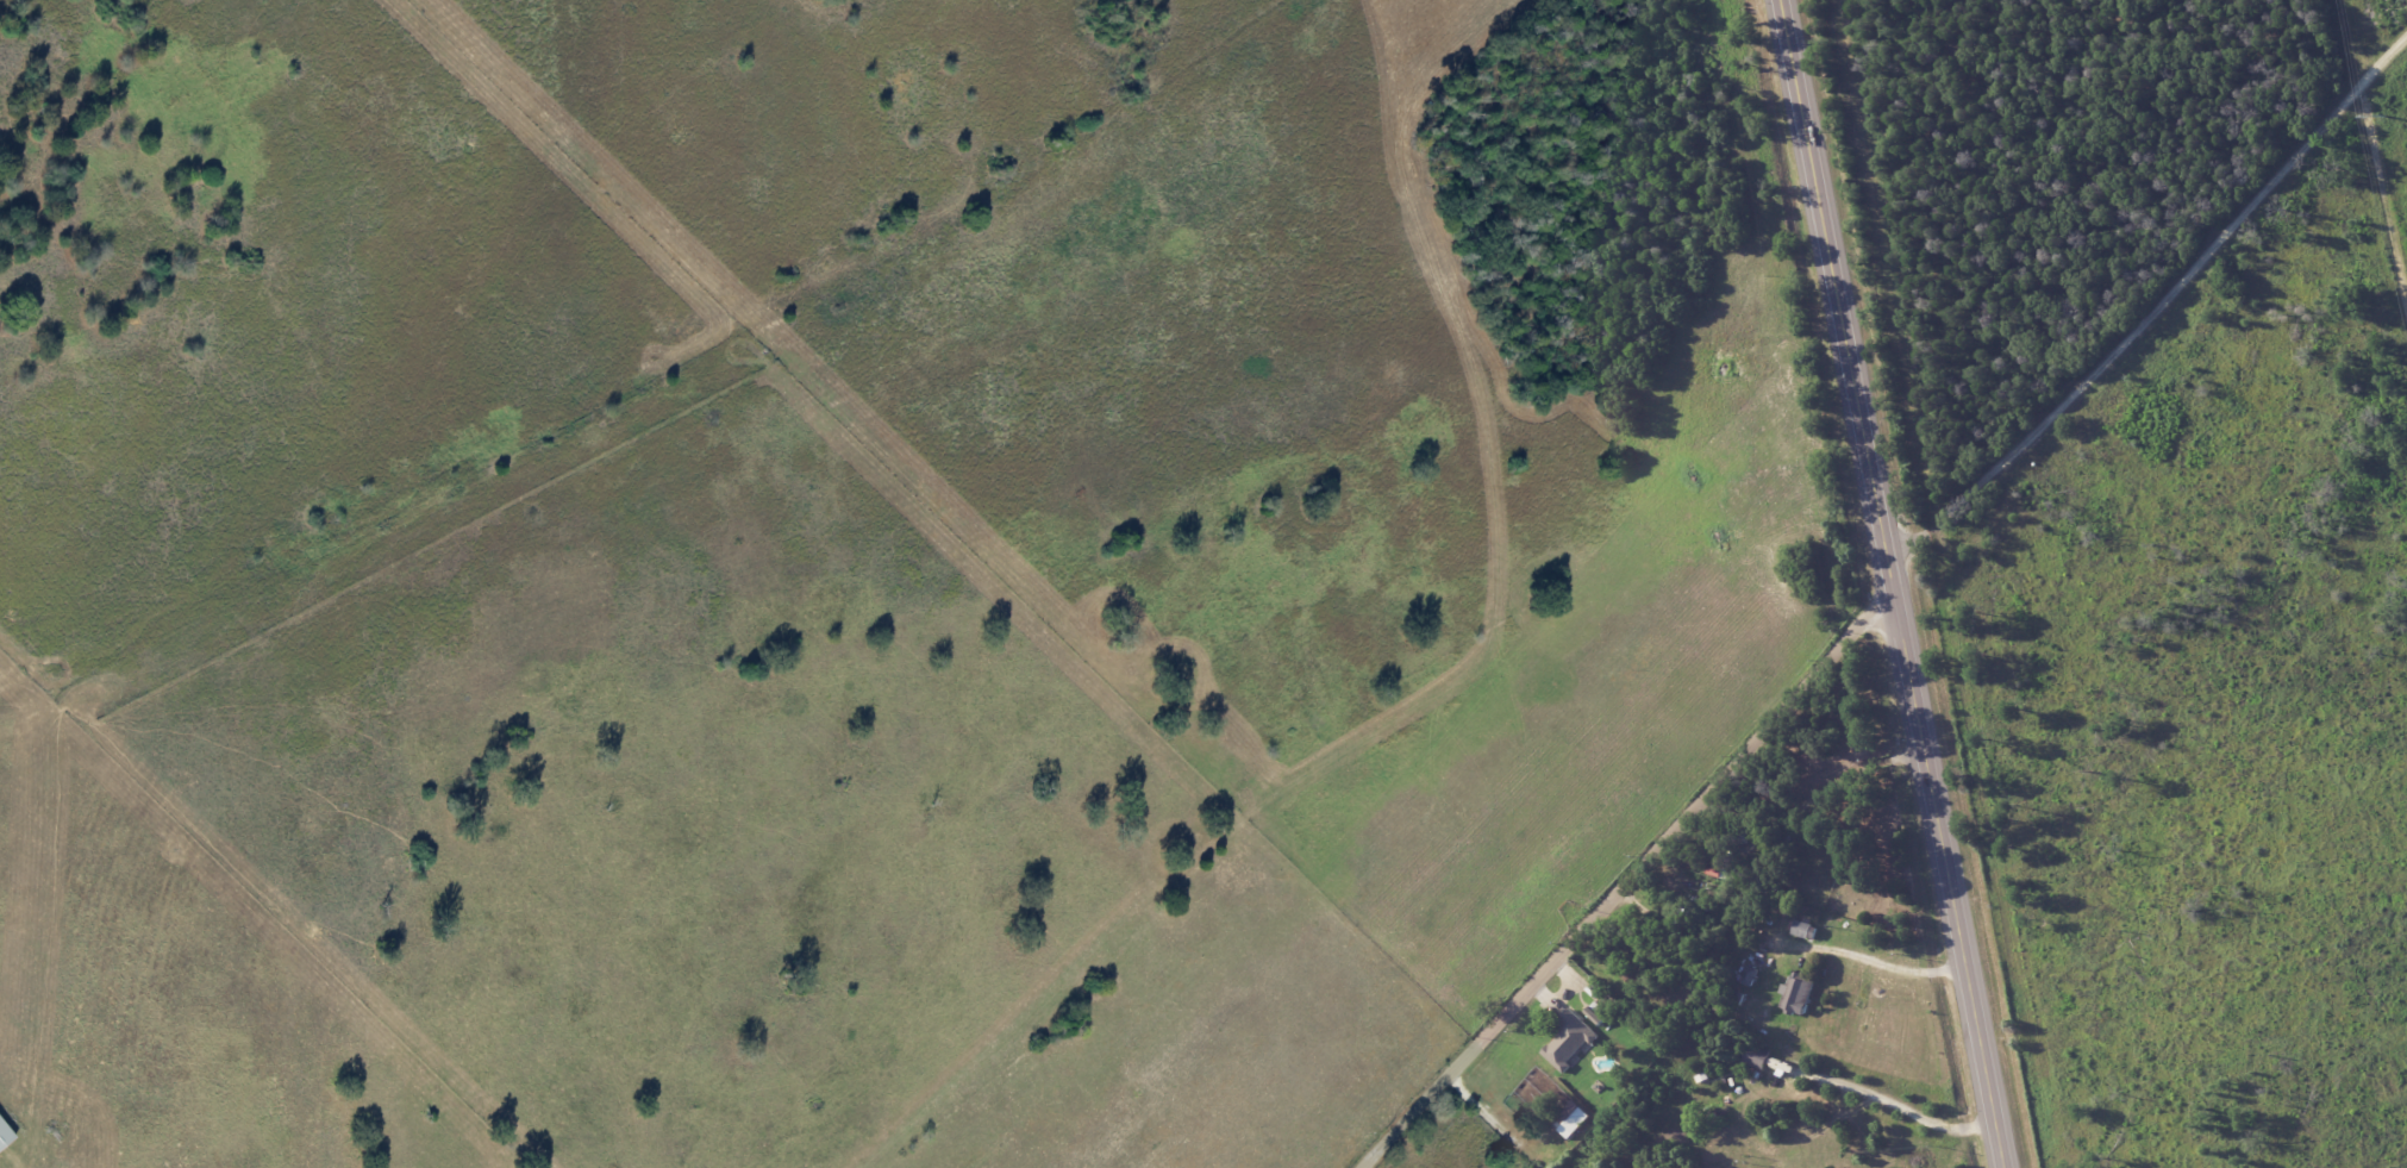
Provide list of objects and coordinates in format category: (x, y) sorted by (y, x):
power tower: (2383, 117)
road: (2146, 305)
road: (1893, 583)
road: (1631, 875)
road: (1877, 960)
building: (1750, 976)
building: (1796, 995)
building: (1596, 1013)
building: (1569, 1041)
building: (1570, 1119)
road: (1895, 1122)
building: (5, 1133)

